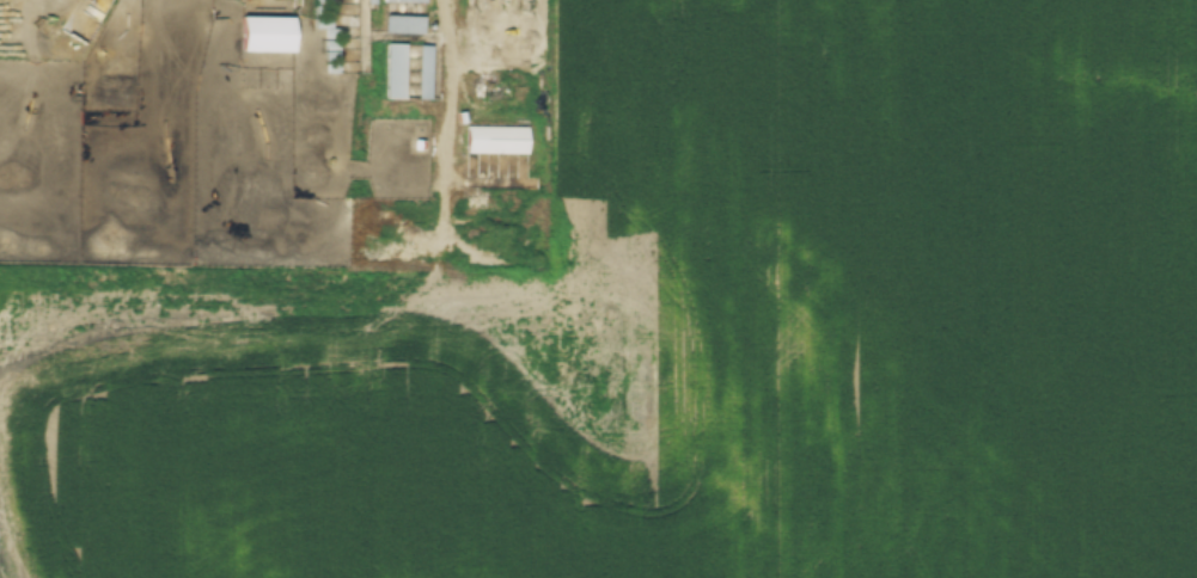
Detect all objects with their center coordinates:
building: (404, 1)
building: (322, 13)
building: (269, 35)
building: (330, 62)
building: (393, 72)
building: (496, 140)

